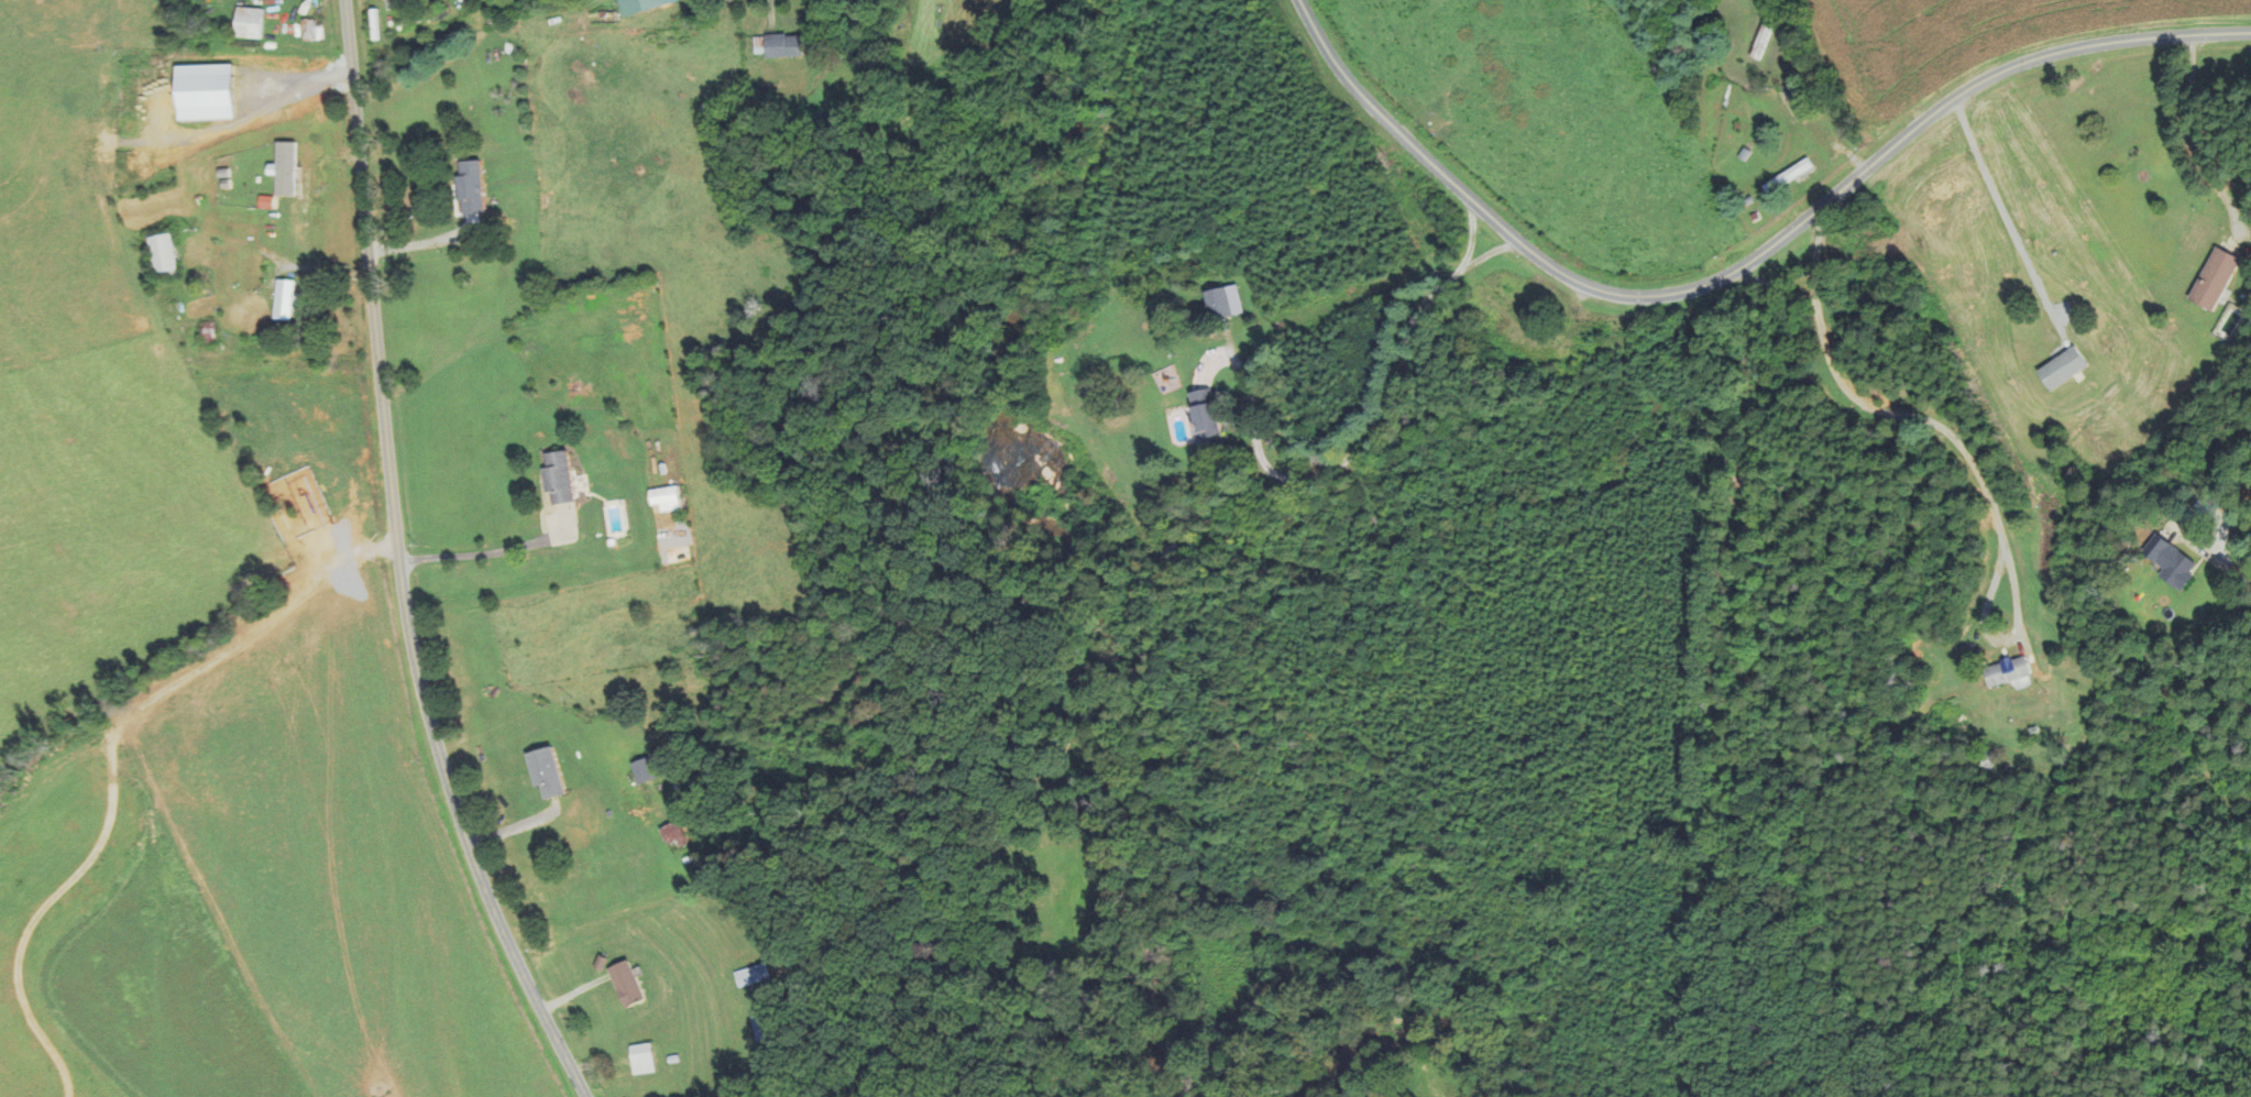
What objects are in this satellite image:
building: (640, 6)
road: (771, 12)
building: (250, 22)
building: (311, 30)
building: (1767, 37)
building: (781, 44)
building: (1799, 94)
road: (2193, 141)
building: (1786, 176)
building: (474, 186)
road: (2003, 209)
road: (1471, 241)
building: (171, 254)
road: (1741, 271)
building: (2225, 276)
building: (290, 298)
building: (1217, 303)
building: (2068, 369)
road: (1878, 405)
building: (1207, 417)
road: (1376, 430)
building: (563, 476)
building: (670, 498)
road: (481, 553)
building: (2168, 562)
road: (400, 564)
road: (2234, 571)
building: (2007, 670)
building: (651, 769)
building: (552, 774)
building: (679, 835)
building: (749, 975)
building: (626, 984)
building: (764, 1032)
building: (645, 1057)

